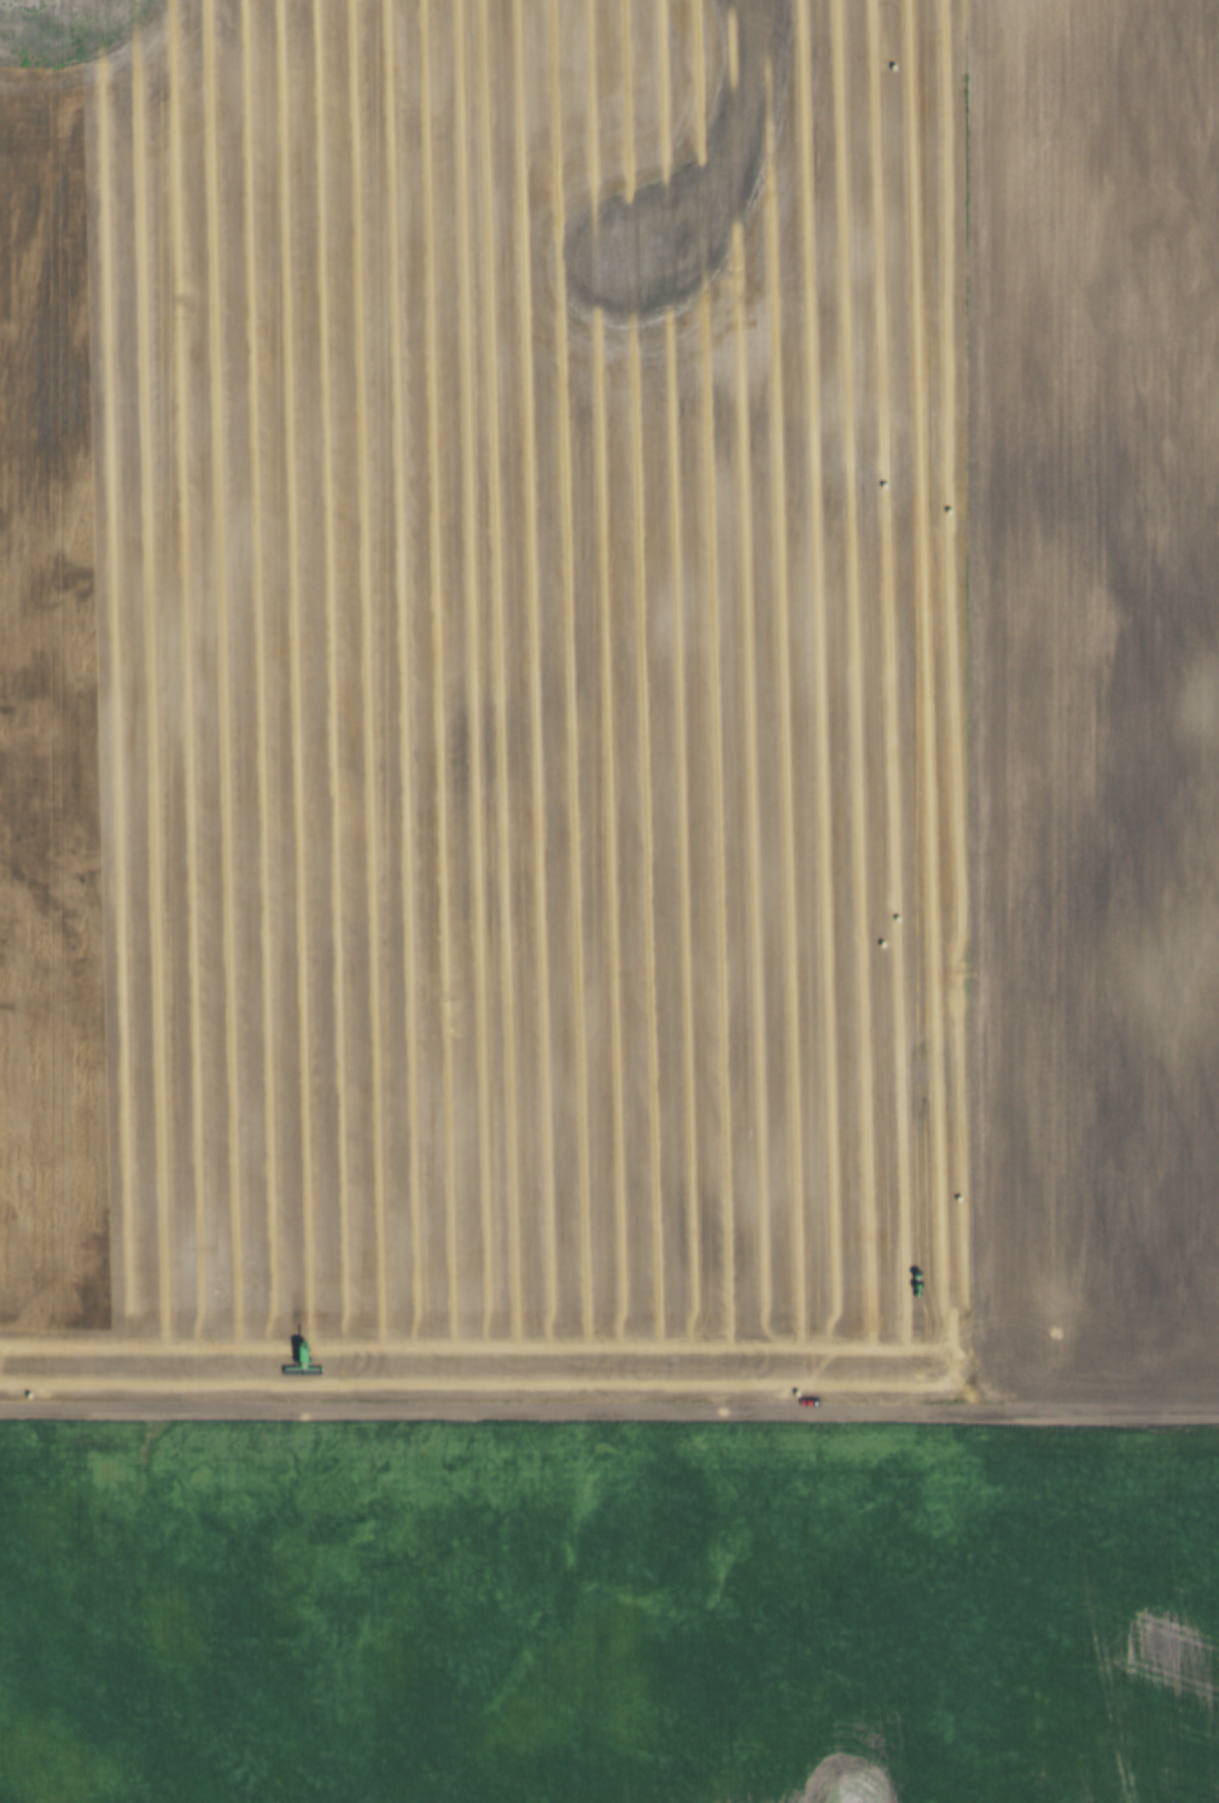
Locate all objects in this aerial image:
road: (609, 1405)

